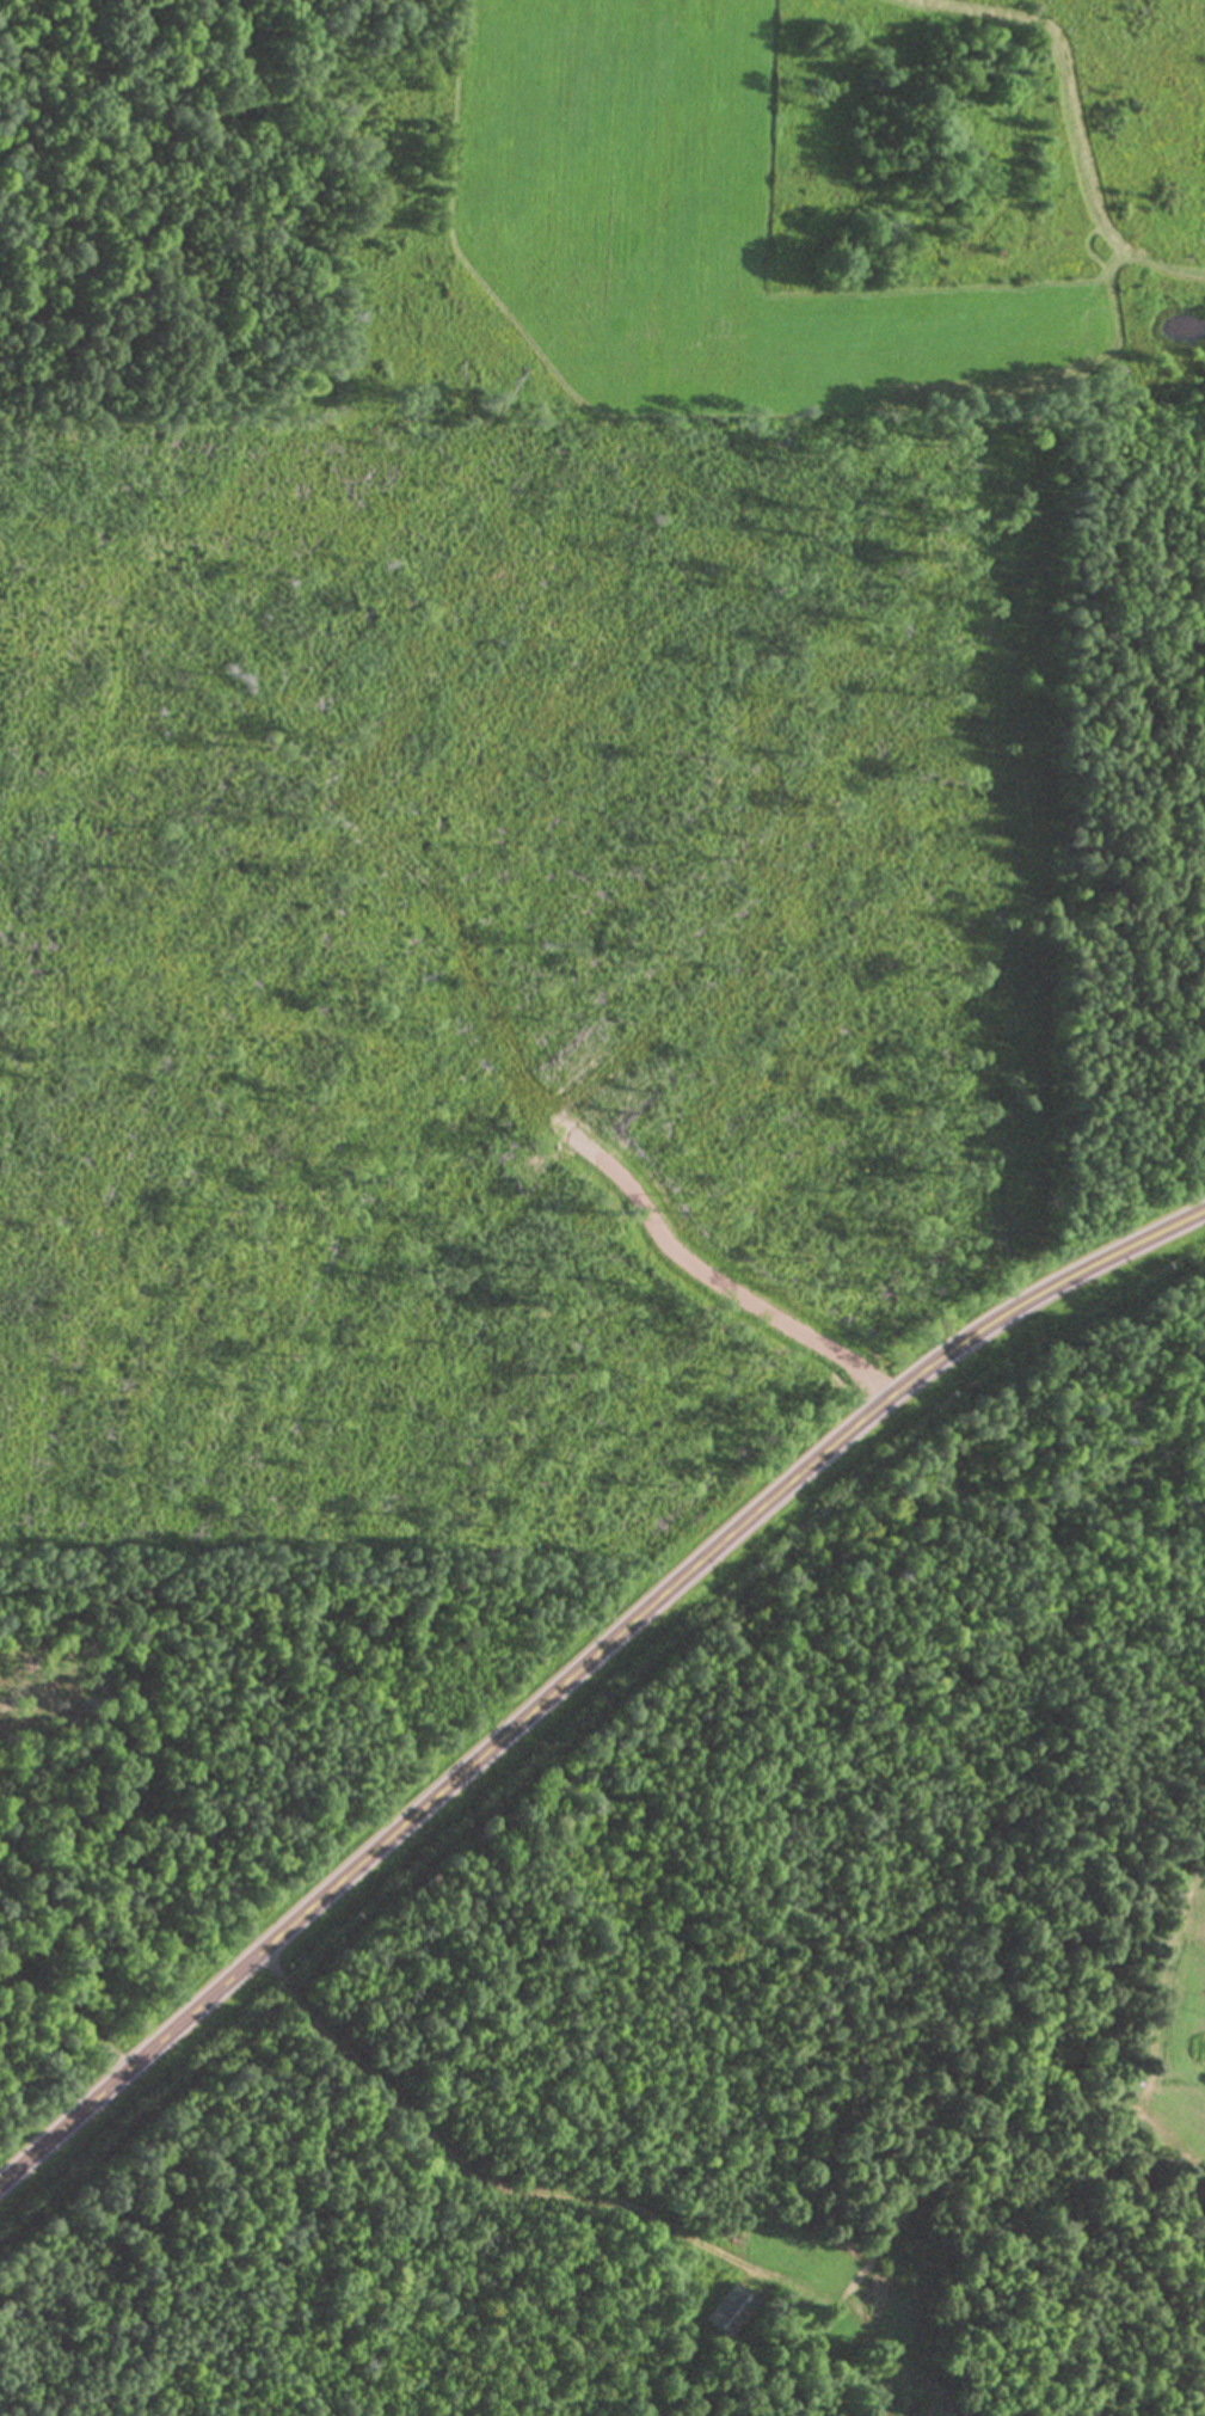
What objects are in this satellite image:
road: (580, 1666)
building: (730, 2312)

